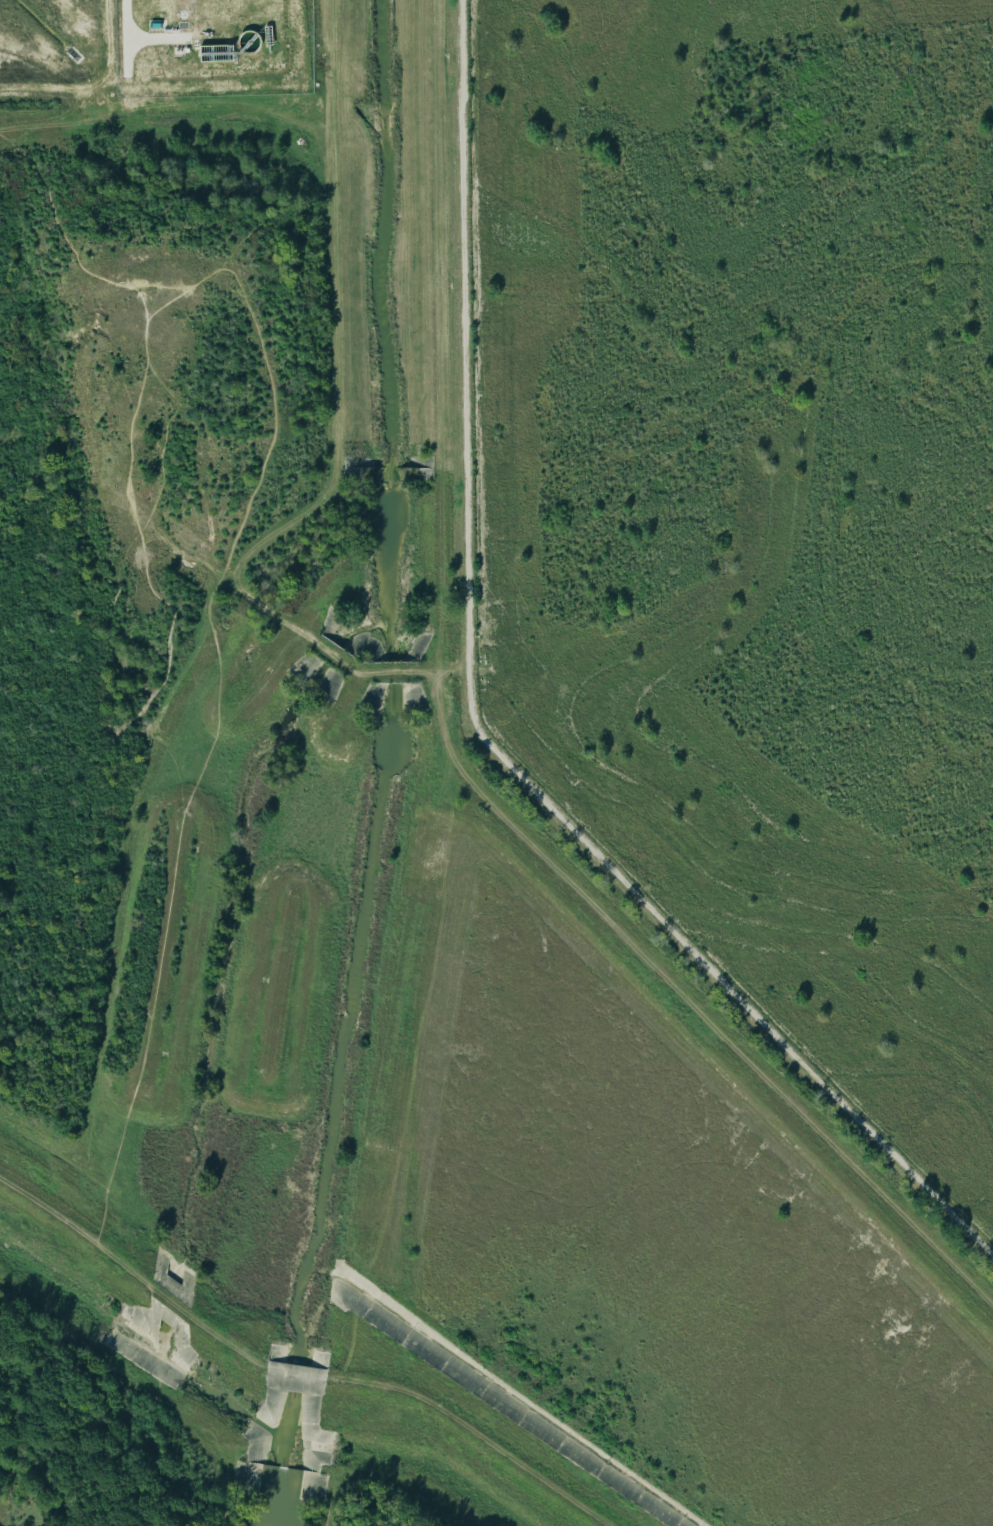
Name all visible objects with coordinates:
road: (175, 78)

